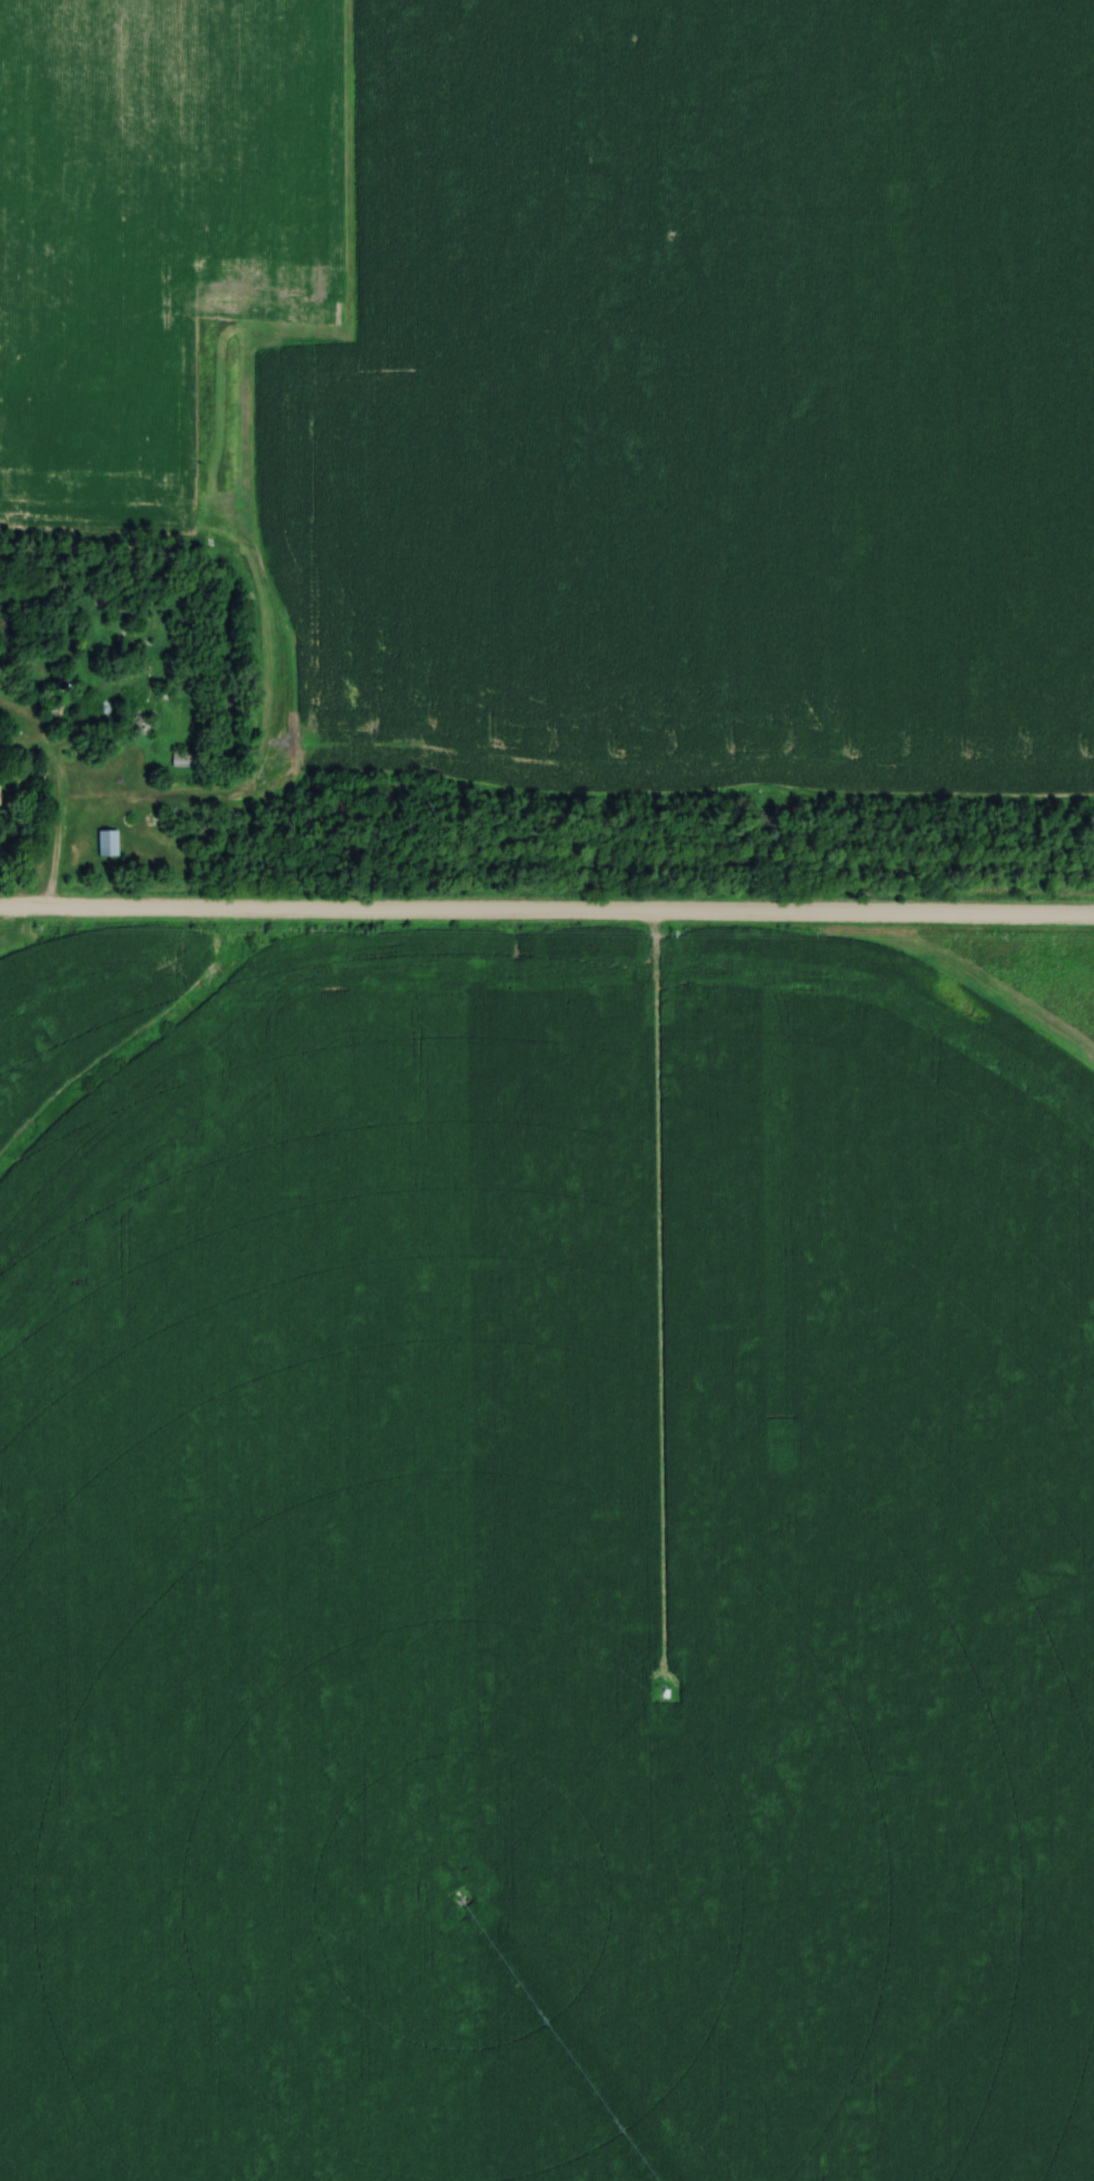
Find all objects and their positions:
building: (133, 698)
building: (182, 758)
building: (0, 801)
road: (56, 808)
building: (107, 843)
road: (546, 911)

